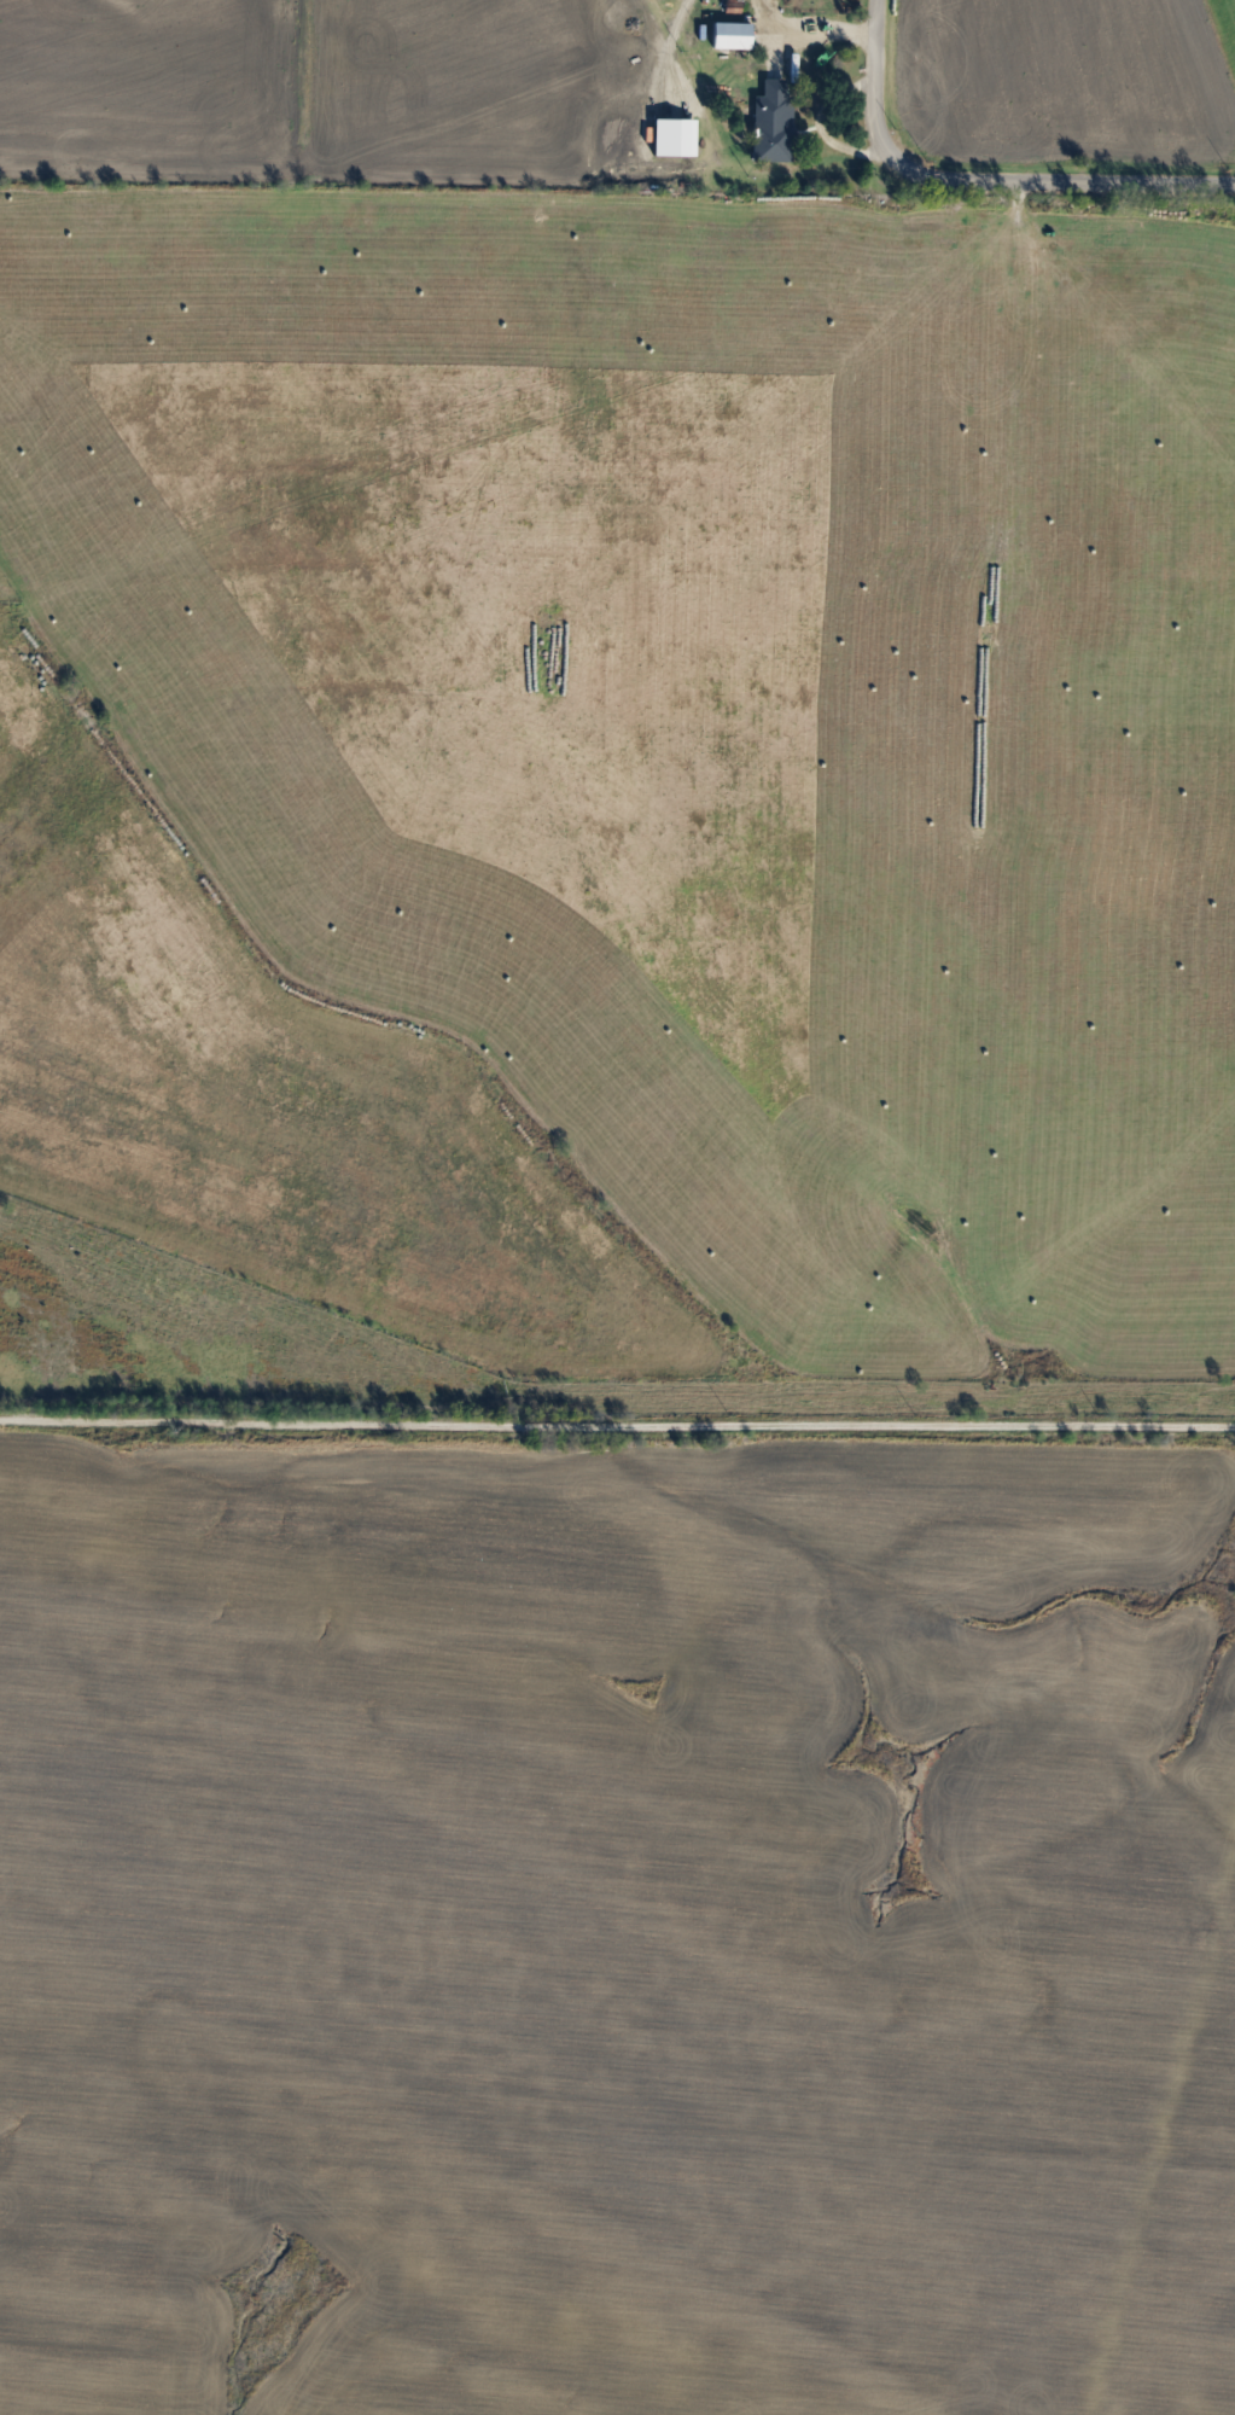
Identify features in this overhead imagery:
road: (810, 31)
building: (728, 35)
building: (768, 124)
road: (981, 184)
road: (617, 1424)

